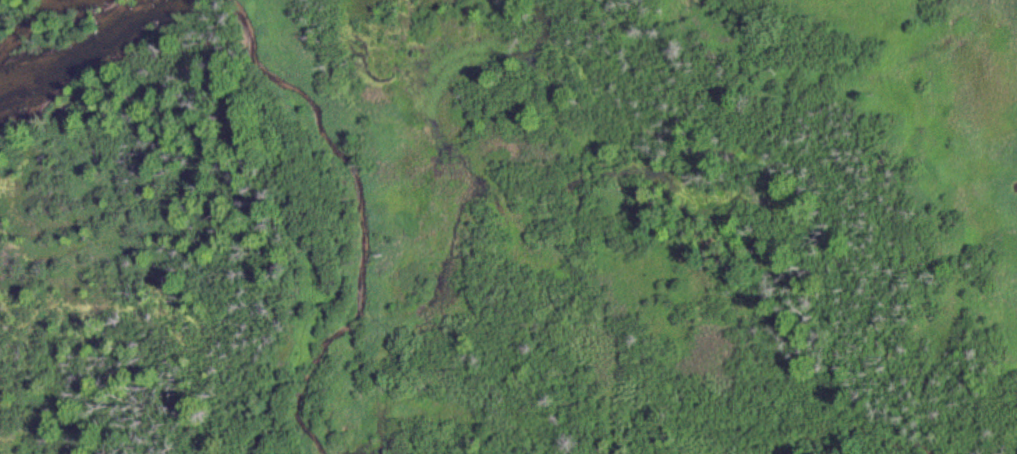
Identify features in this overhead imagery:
river: (82, 55)

